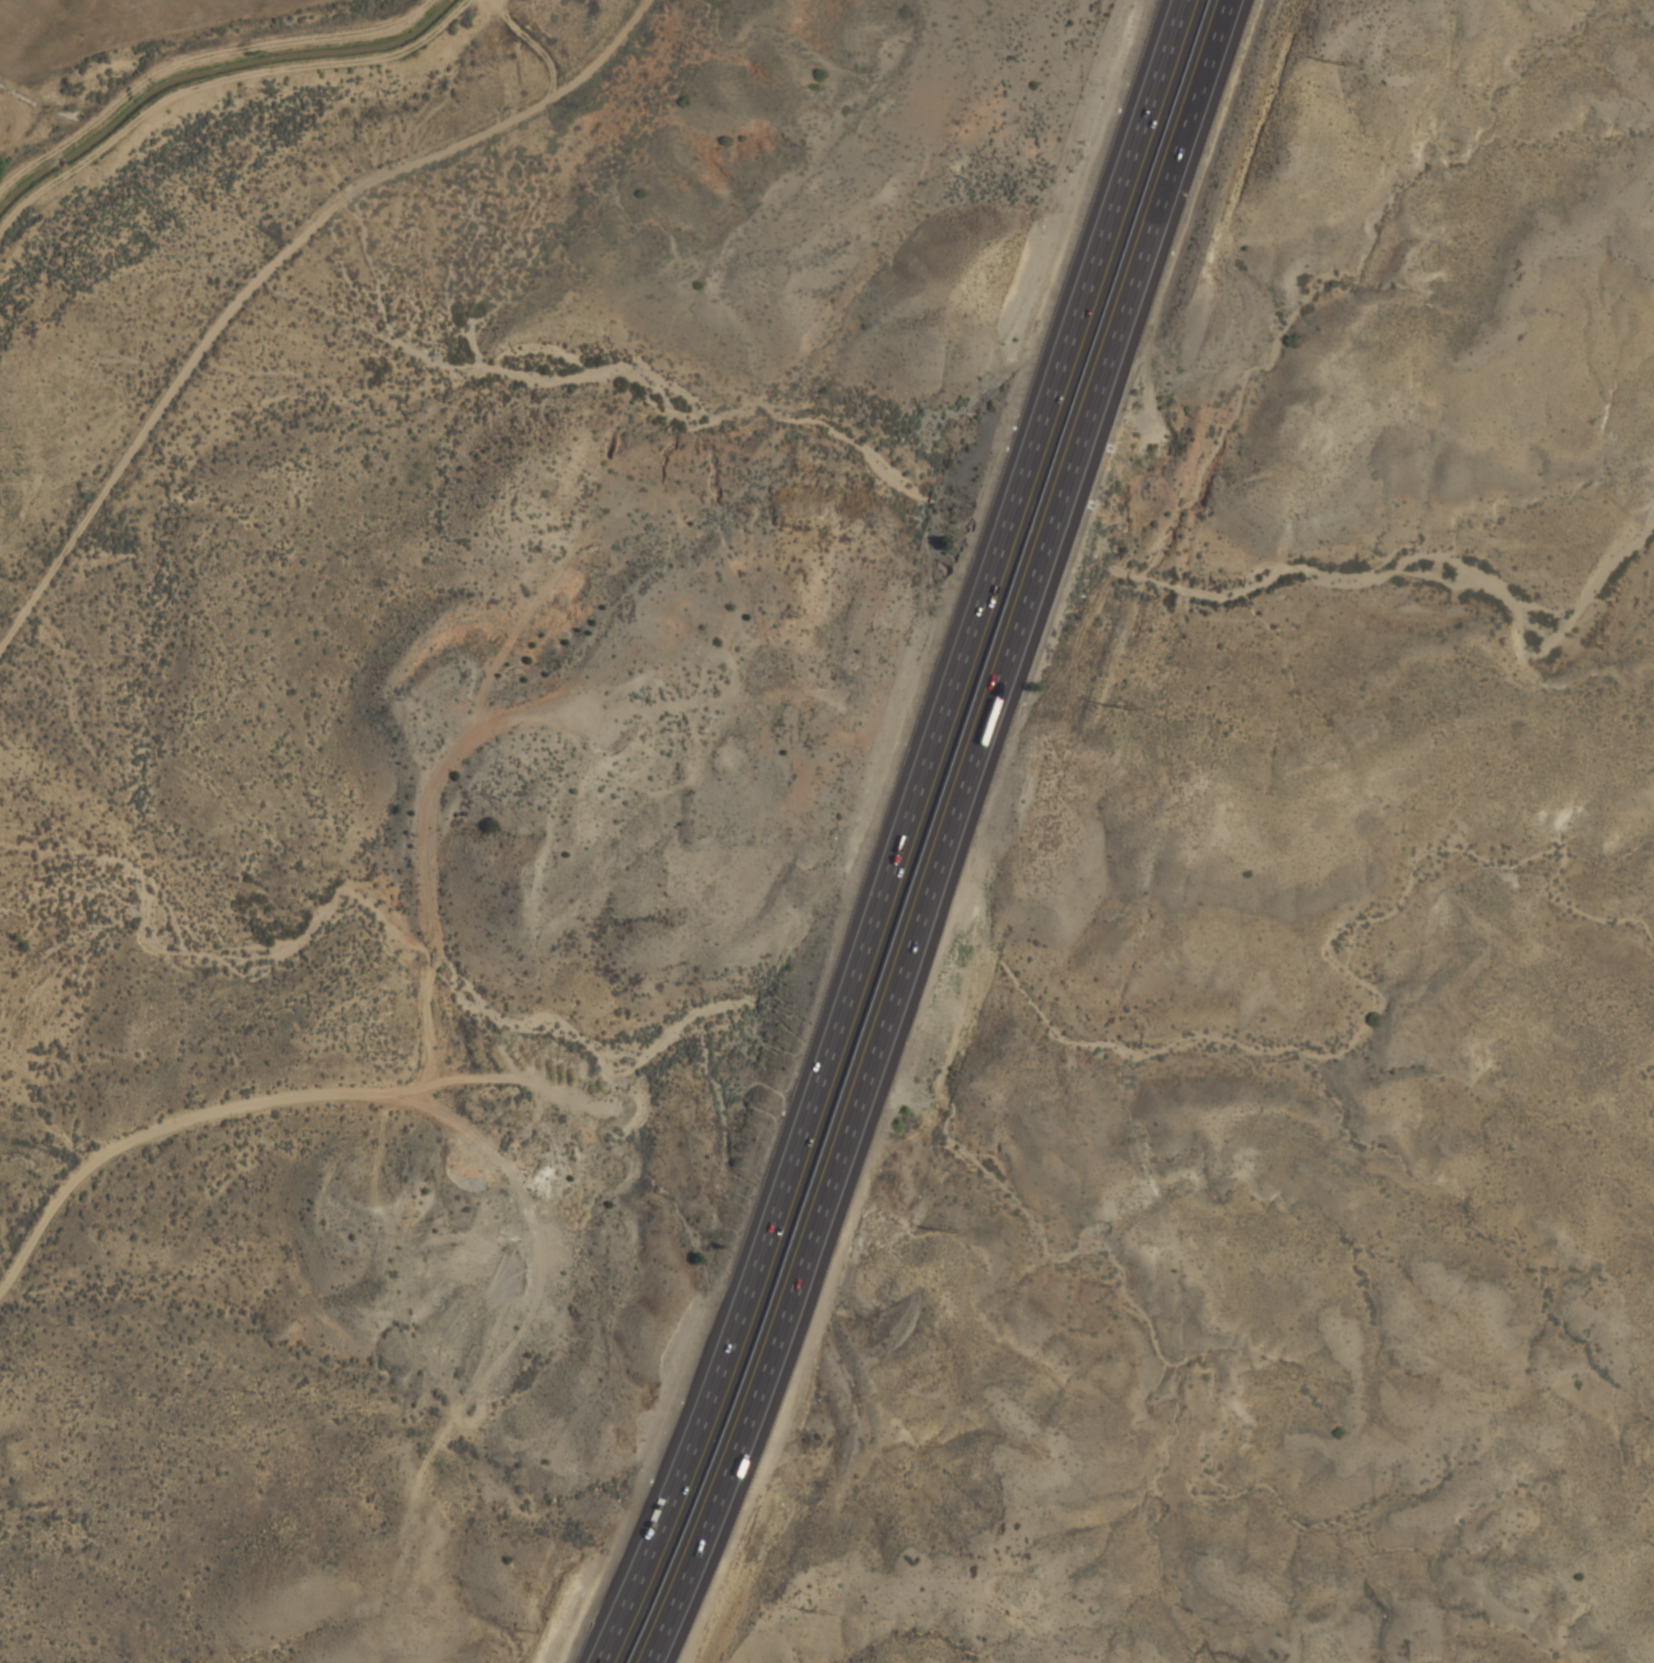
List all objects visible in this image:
road: (272, 270)
road: (938, 831)
road: (883, 835)
road: (174, 1128)

